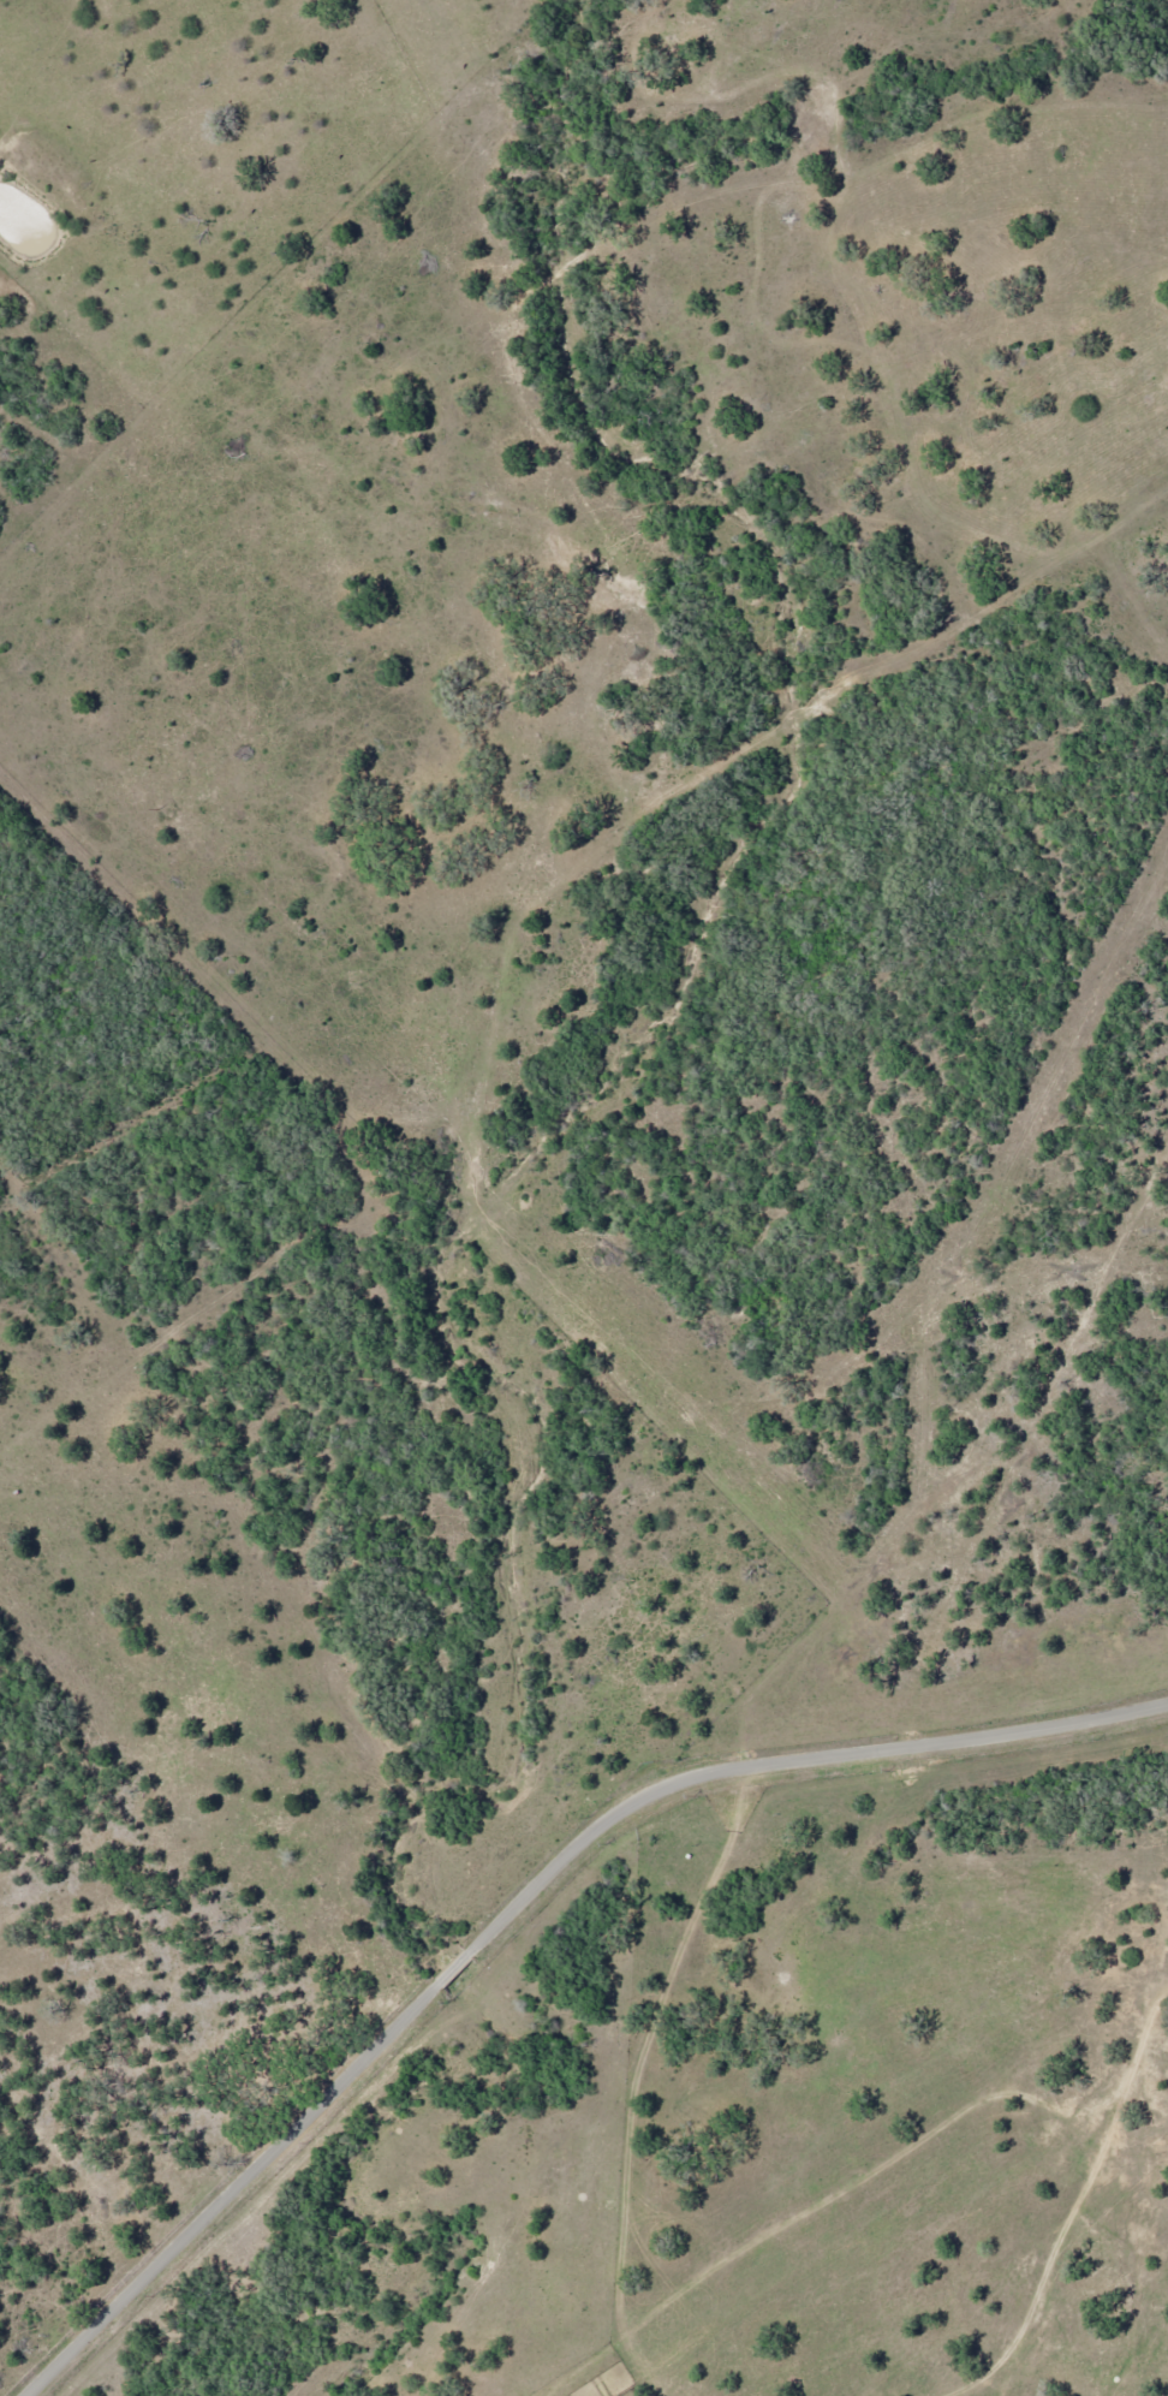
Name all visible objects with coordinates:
road: (520, 1902)
road: (1075, 2213)

